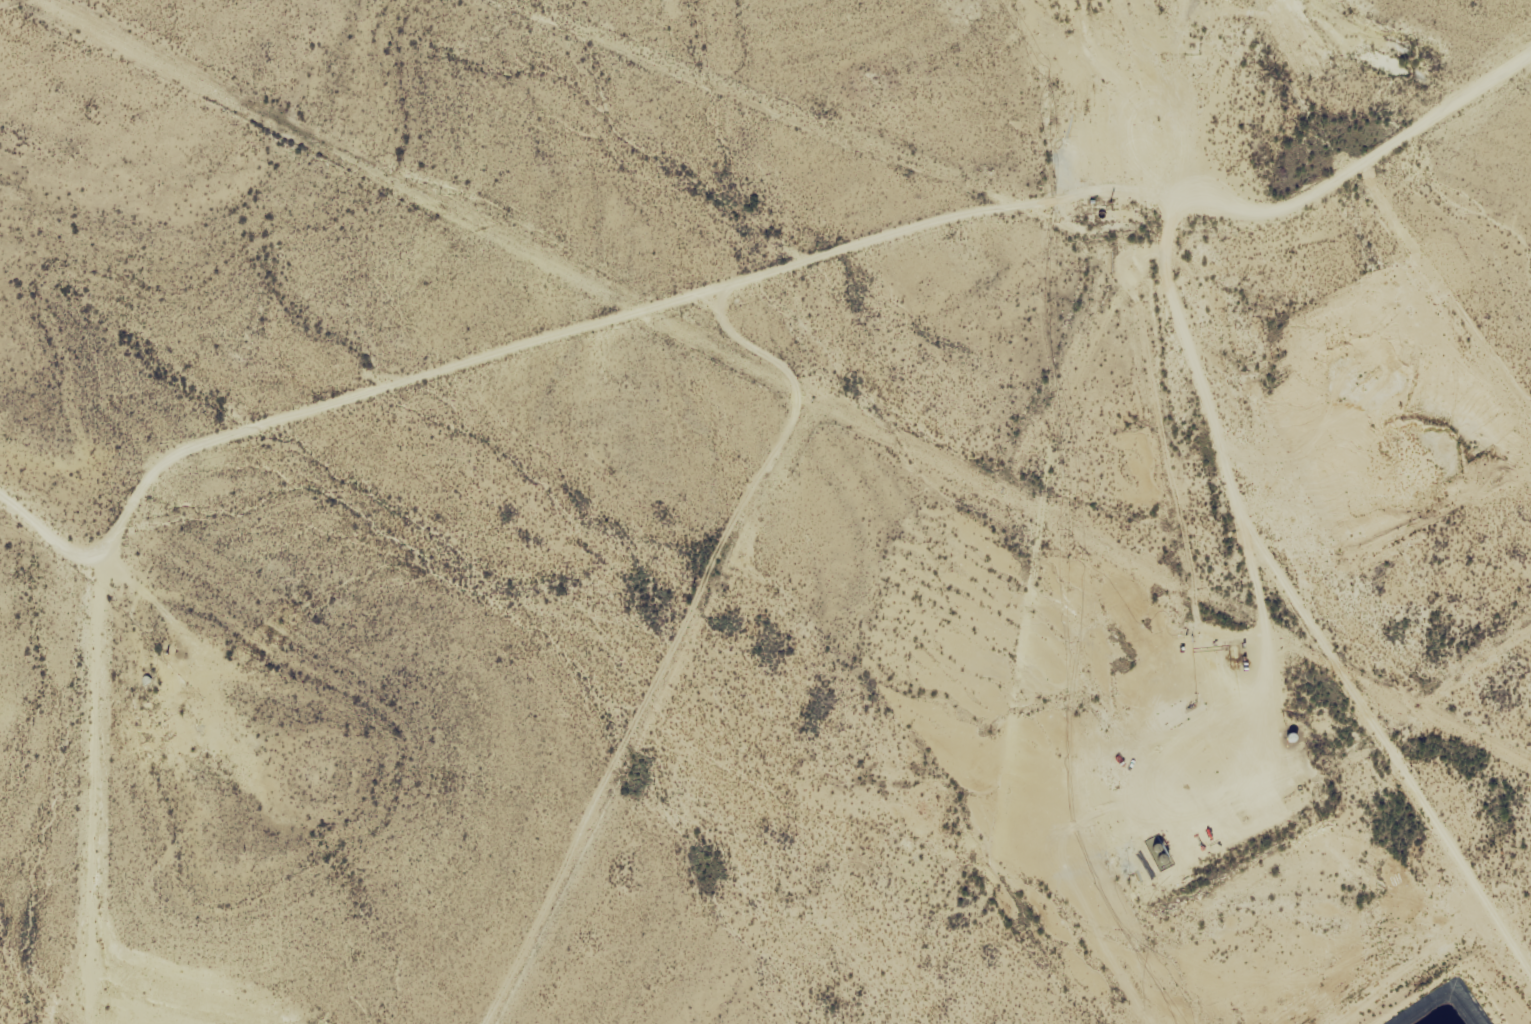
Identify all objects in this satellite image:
road: (10, 3)
road: (997, 183)
road: (985, 625)

